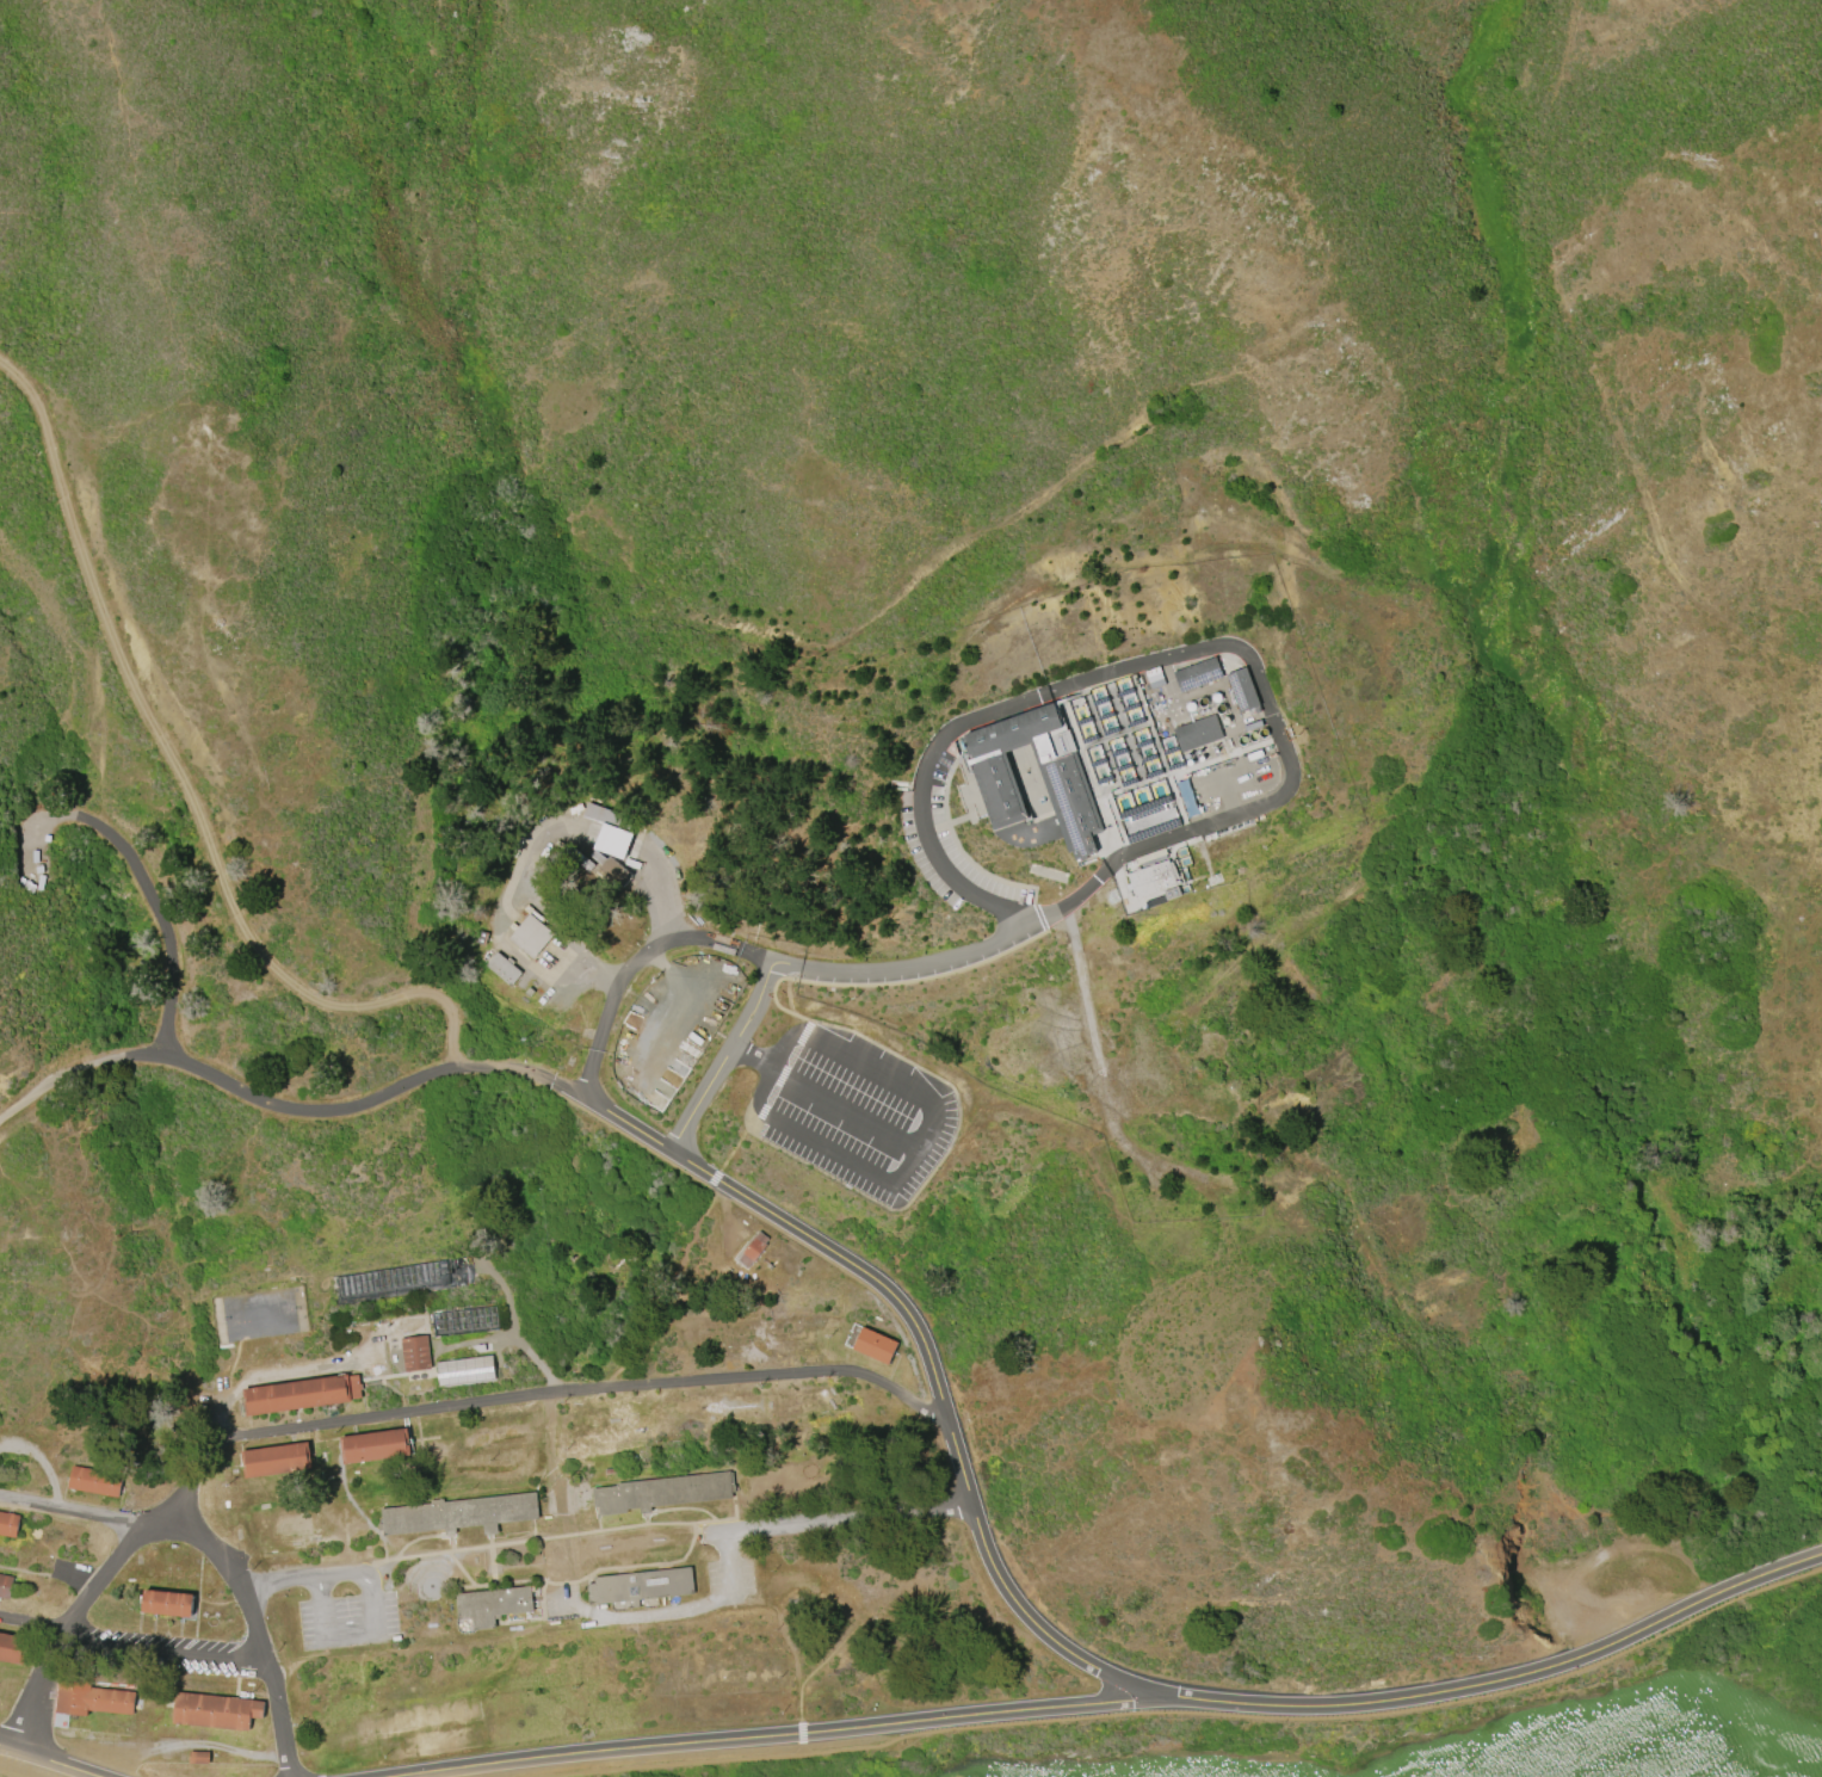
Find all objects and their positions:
building: (1199, 677)
building: (1243, 692)
road: (1272, 717)
building: (1199, 734)
road: (184, 782)
building: (1068, 791)
road: (921, 797)
building: (607, 831)
parking lot: (946, 843)
road: (1106, 853)
building: (613, 875)
road: (144, 877)
building: (532, 936)
road: (721, 945)
building: (502, 968)
road: (636, 968)
road: (848, 975)
road: (58, 1078)
road: (827, 1097)
road: (347, 1109)
parking lot: (861, 1116)
building: (758, 1247)
building: (407, 1325)
road: (517, 1331)
road: (931, 1347)
building: (876, 1349)
building: (416, 1356)
building: (467, 1374)
road: (276, 1375)
road: (531, 1395)
building: (303, 1396)
building: (372, 1446)
building: (274, 1458)
building: (95, 1481)
building: (662, 1495)
road: (69, 1513)
building: (462, 1517)
road: (848, 1518)
building: (8, 1524)
road: (543, 1538)
road: (48, 1574)
road: (303, 1579)
building: (5, 1585)
building: (642, 1588)
building: (166, 1603)
building: (494, 1609)
road: (677, 1612)
parking lot: (347, 1622)
road: (31, 1624)
road: (61, 1630)
road: (259, 1633)
road: (350, 1636)
building: (8, 1647)
parking lot: (154, 1653)
road: (162, 1653)
road: (1503, 1683)
building: (89, 1698)
building: (216, 1710)
road: (1208, 1714)
road: (779, 1735)
road: (6, 1750)
building: (197, 1758)
road: (56, 1764)
parking lot: (24, 1769)
road: (4, 1773)
road: (4, 1776)
road: (10, 1776)

